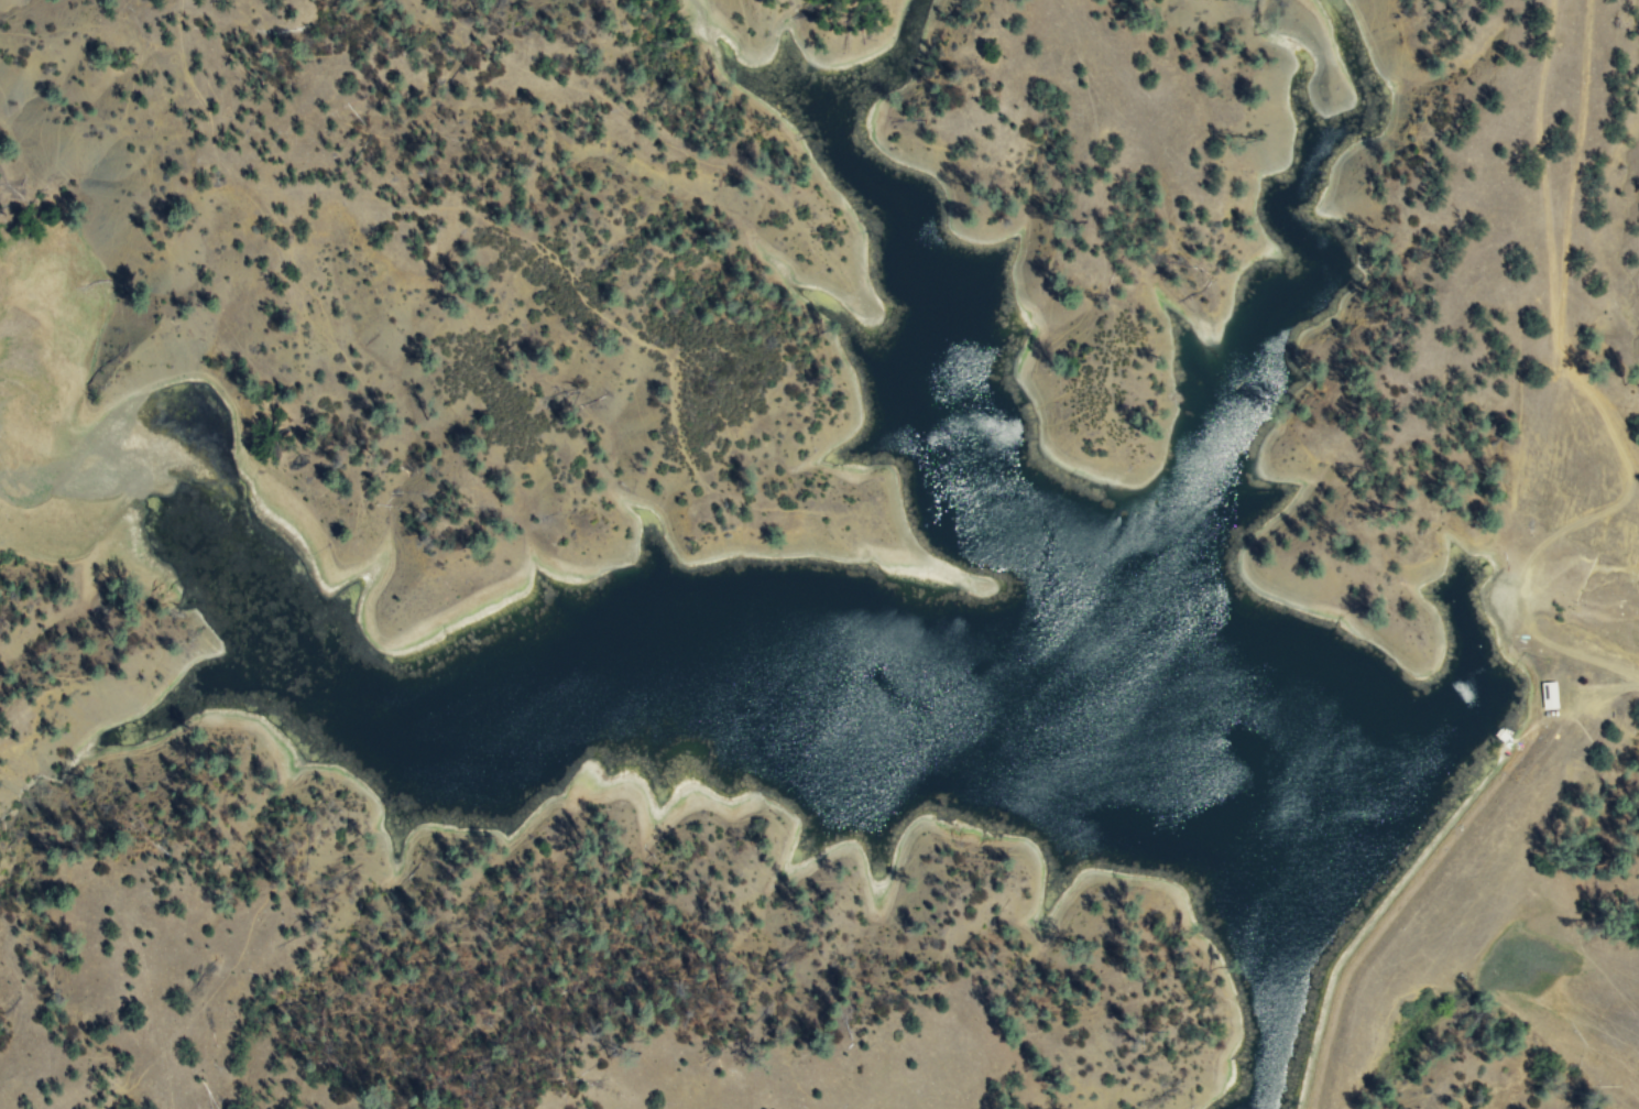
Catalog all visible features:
dam: (1445, 914)

